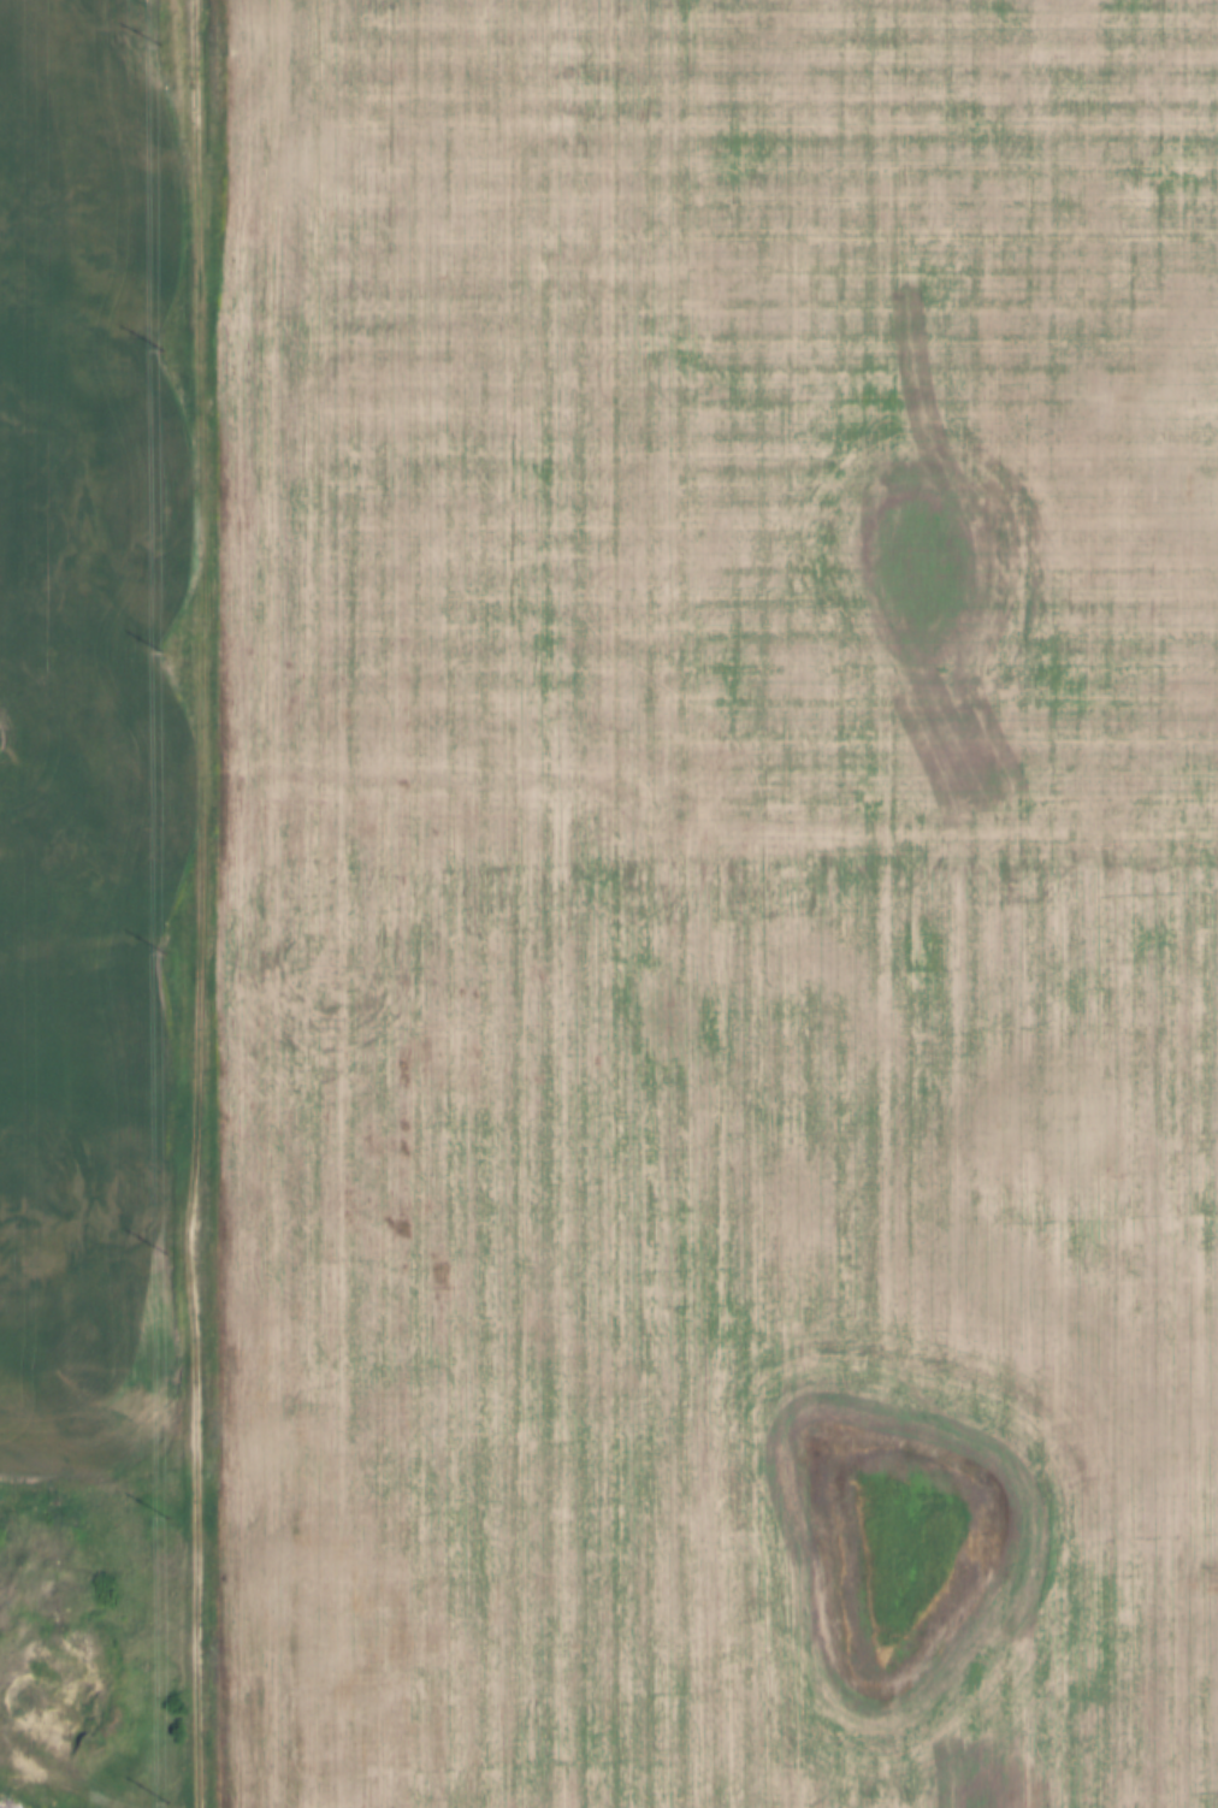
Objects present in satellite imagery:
road: (195, 903)
quarry: (88, 1644)
road: (65, 1779)

